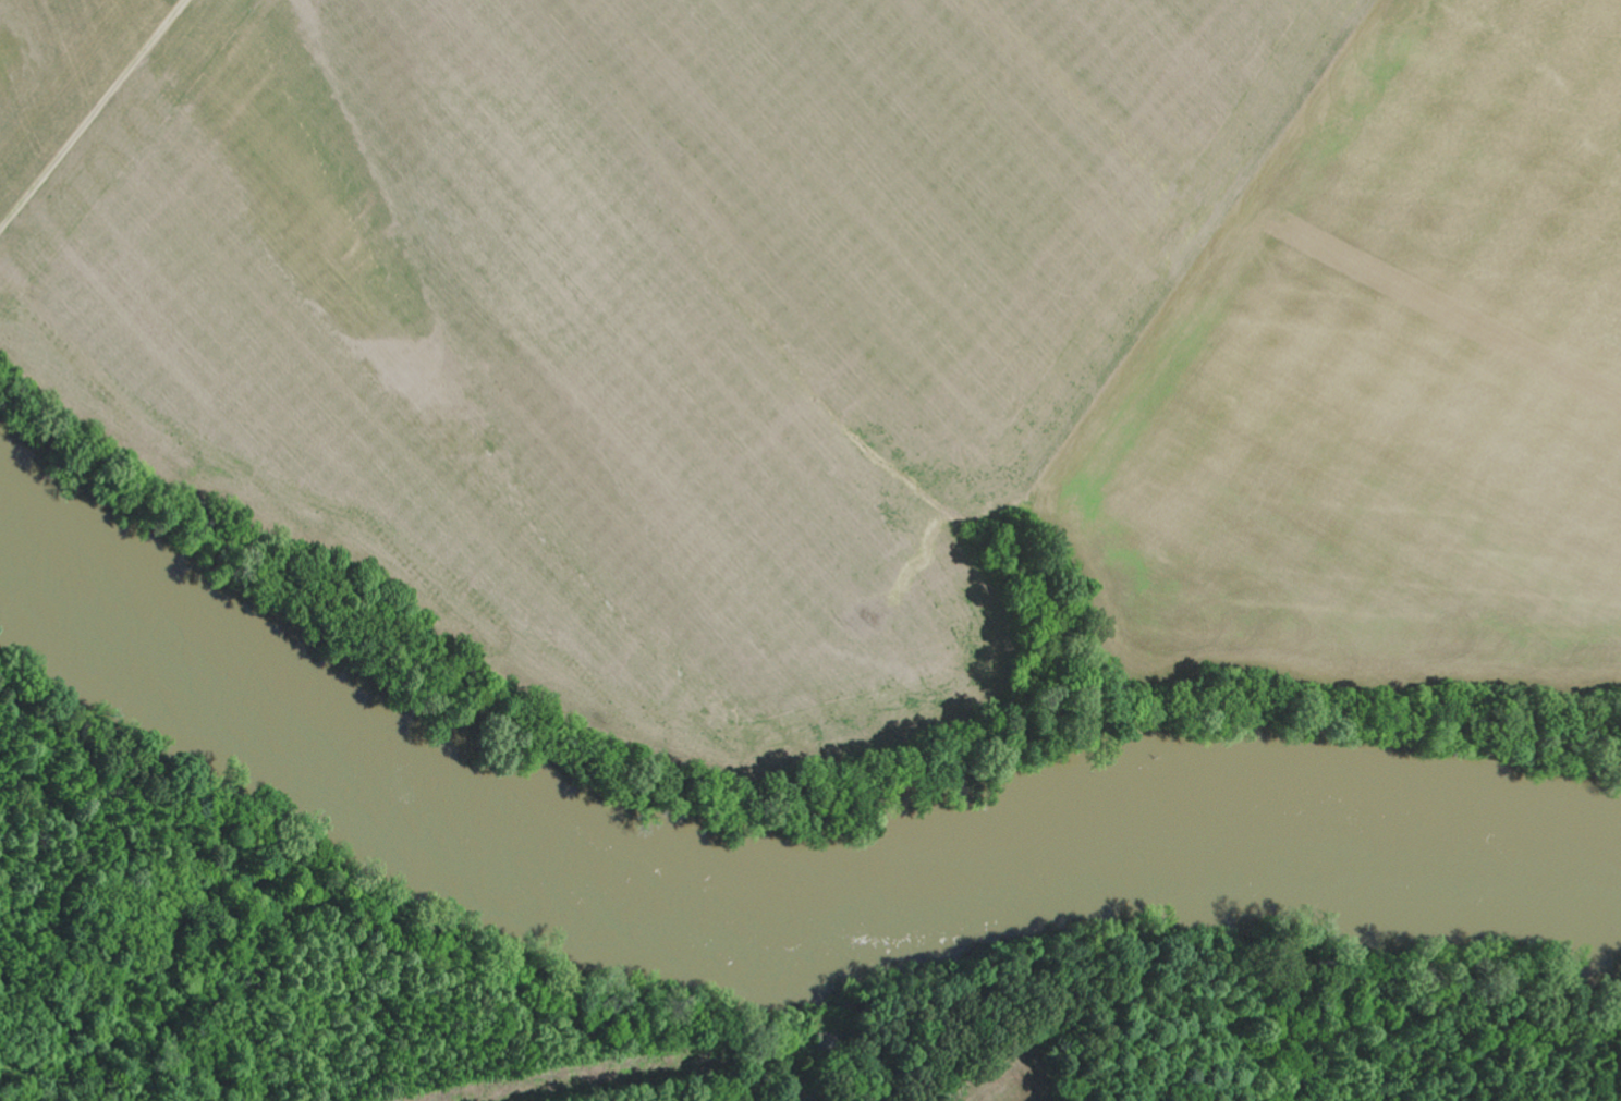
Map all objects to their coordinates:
road: (92, 114)
river: (770, 890)

